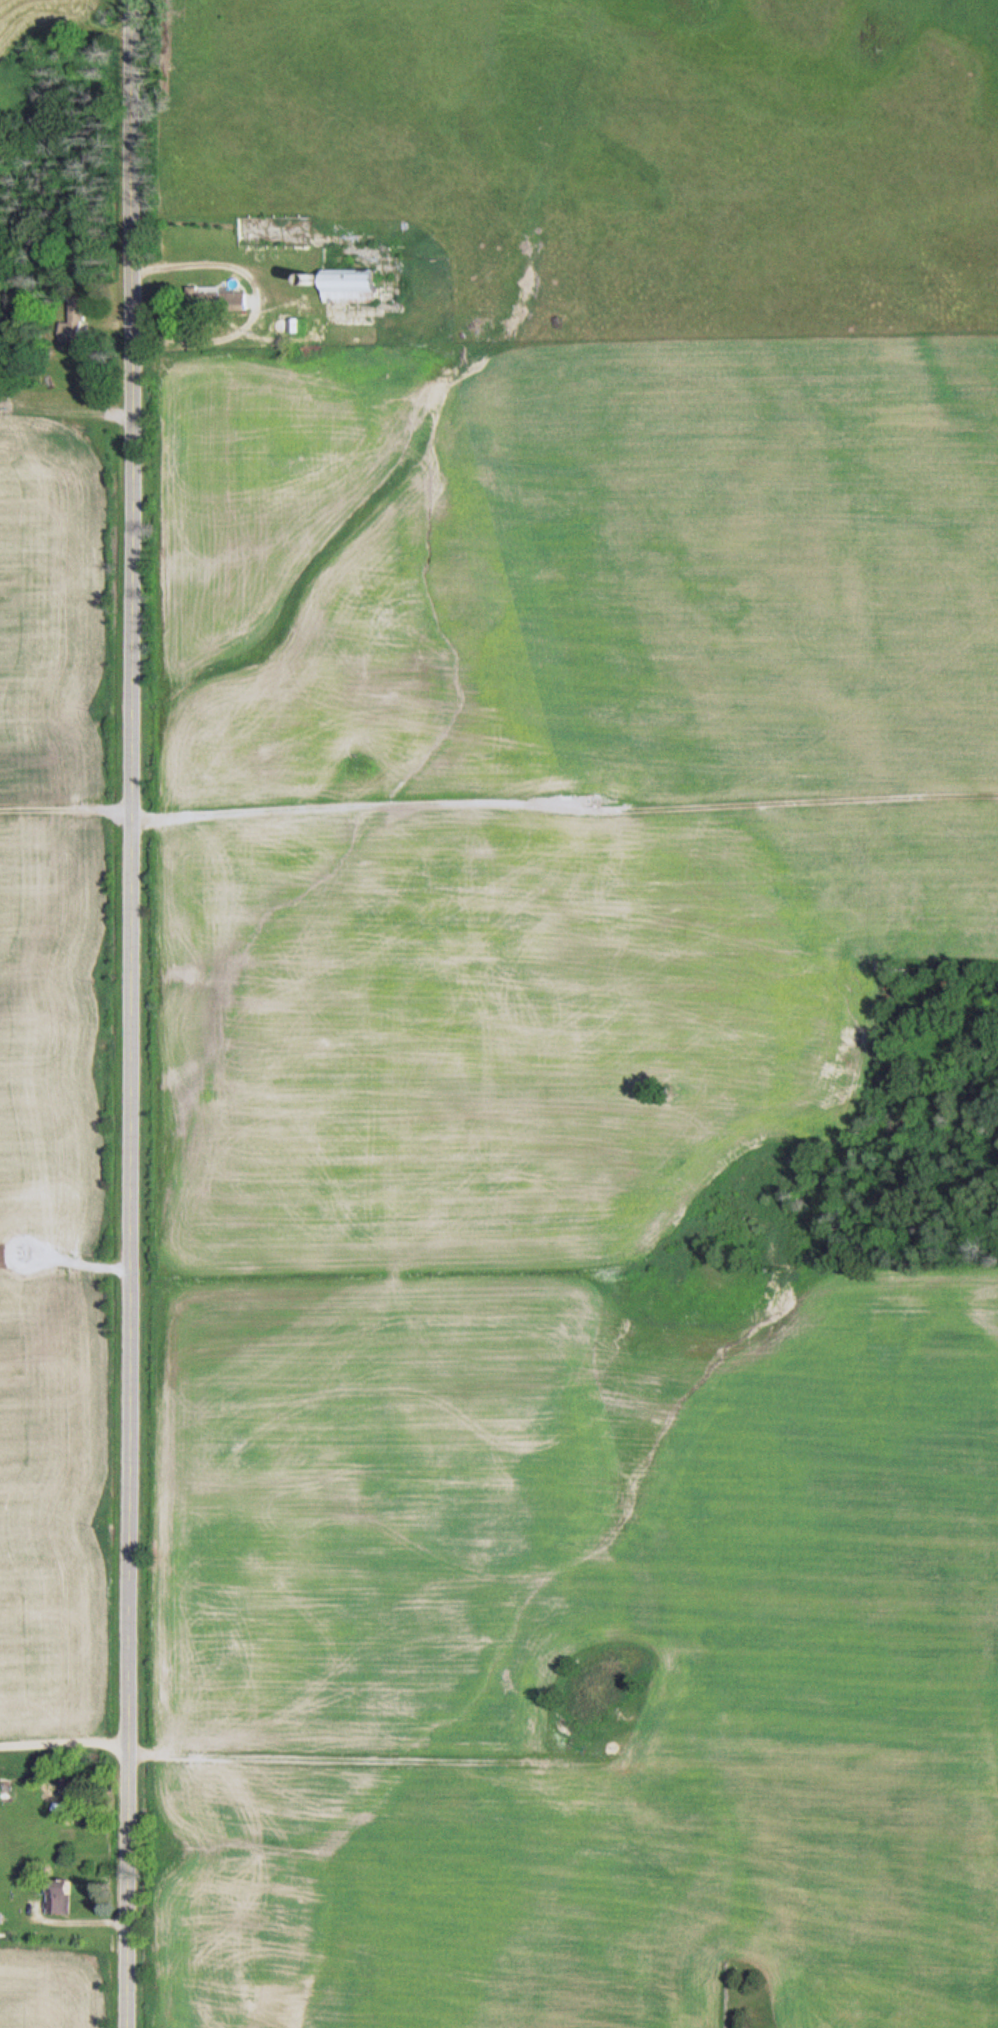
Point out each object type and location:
building: (360, 273)
building: (77, 323)
building: (288, 324)
road: (129, 1014)
building: (9, 1788)
building: (65, 1894)

